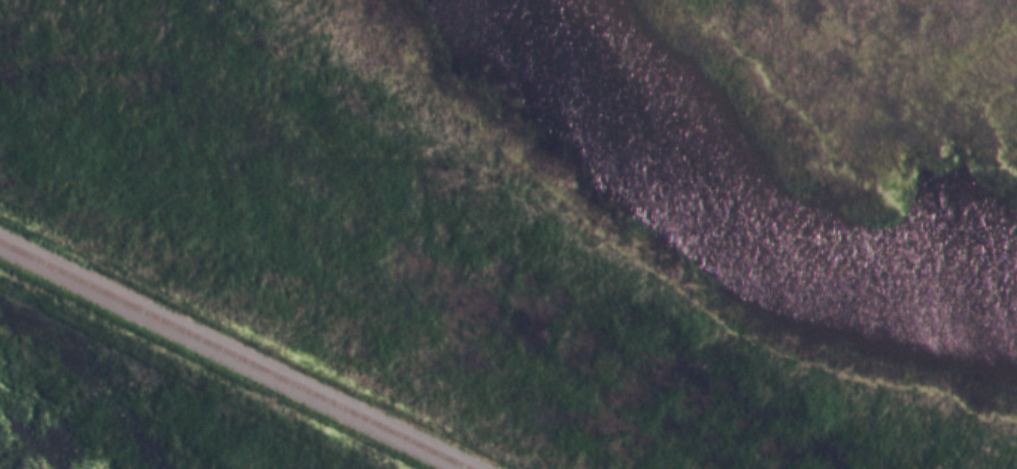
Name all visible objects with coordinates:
railway: (232, 356)
river: (22, 445)

